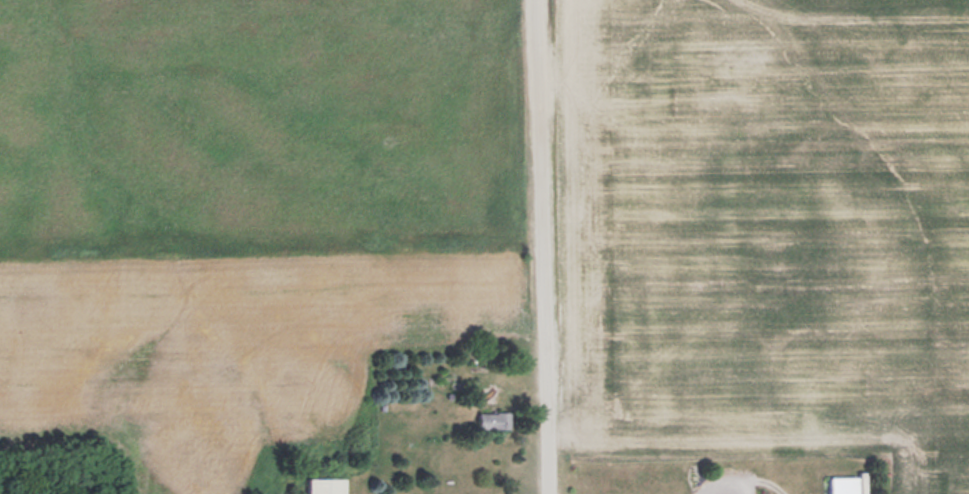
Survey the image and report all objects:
road: (545, 247)
building: (494, 419)
building: (849, 484)
building: (327, 485)

